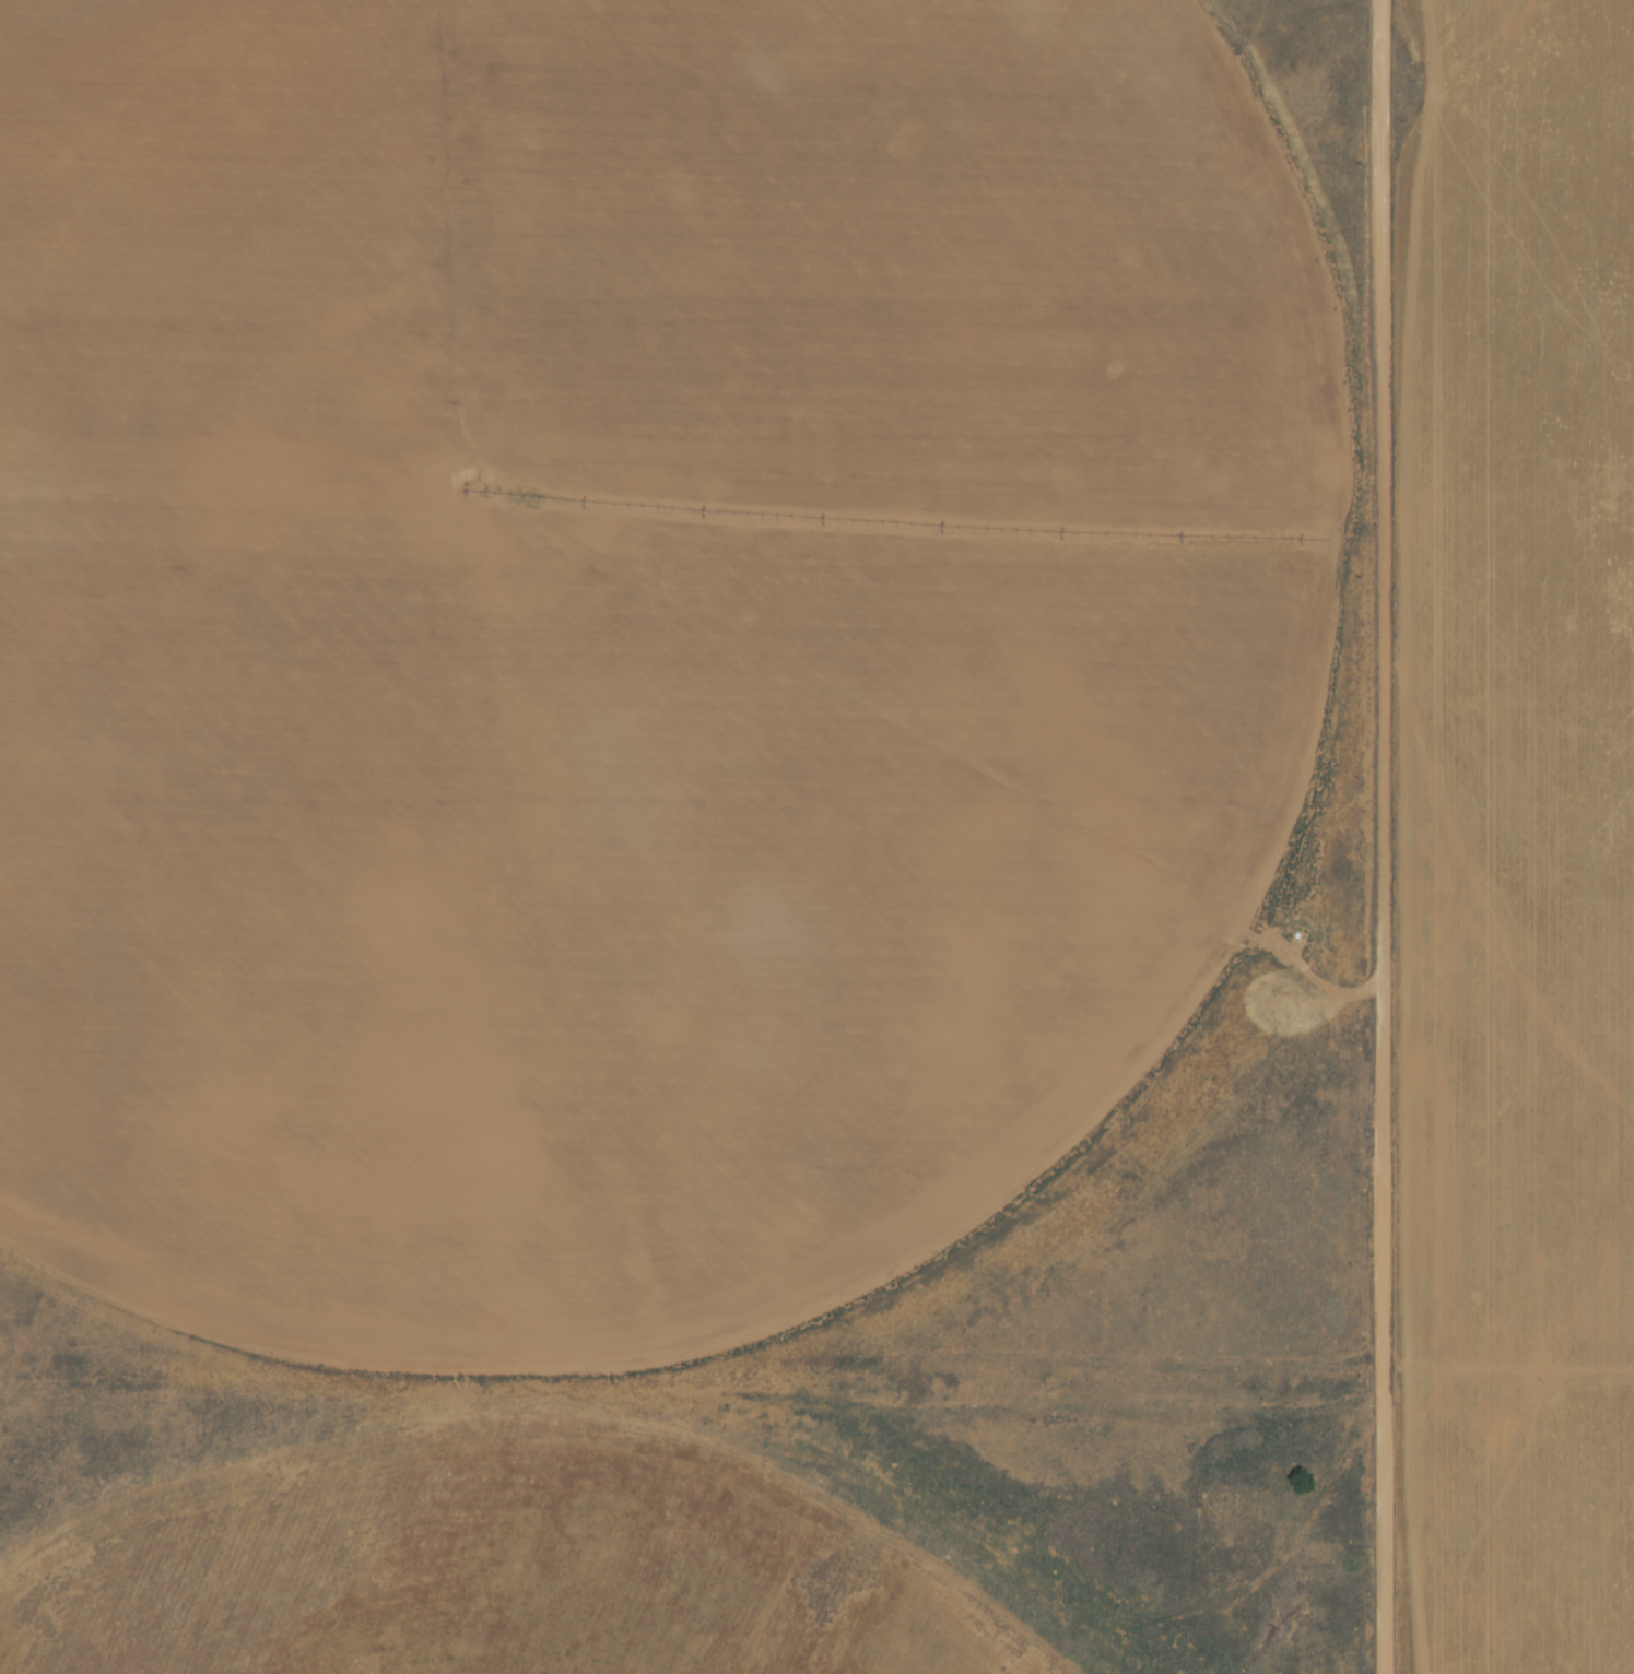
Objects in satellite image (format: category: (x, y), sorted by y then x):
road: (1386, 837)

